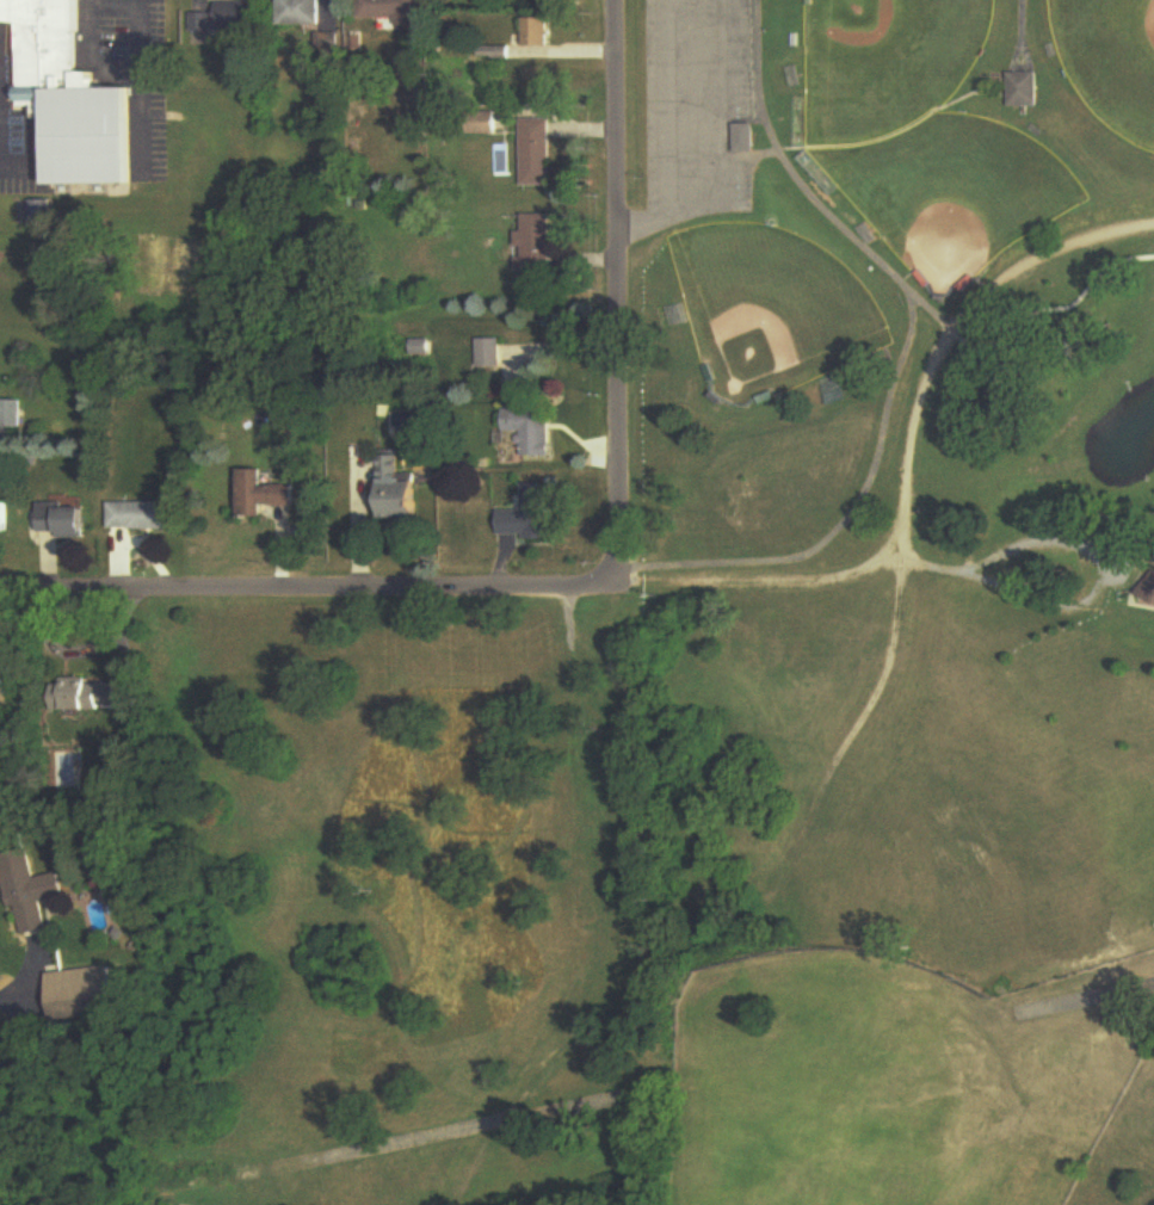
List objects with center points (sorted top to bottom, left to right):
road: (88, 1)
building: (390, 8)
building: (300, 13)
building: (226, 19)
building: (538, 33)
park: (1111, 60)
road: (137, 61)
park: (888, 63)
building: (537, 87)
building: (1025, 91)
building: (70, 98)
road: (675, 135)
building: (745, 137)
building: (537, 152)
park: (956, 192)
building: (539, 243)
road: (617, 290)
park: (771, 308)
building: (489, 353)
building: (11, 422)
building: (537, 431)
road: (903, 464)
building: (409, 493)
building: (267, 495)
building: (146, 517)
building: (535, 517)
building: (10, 518)
building: (67, 520)
road: (308, 586)
building: (1149, 587)
road: (1088, 594)
building: (5, 688)
building: (88, 696)
park: (730, 697)
road: (777, 886)
building: (31, 891)
road: (24, 981)
building: (84, 994)
road: (470, 1123)

